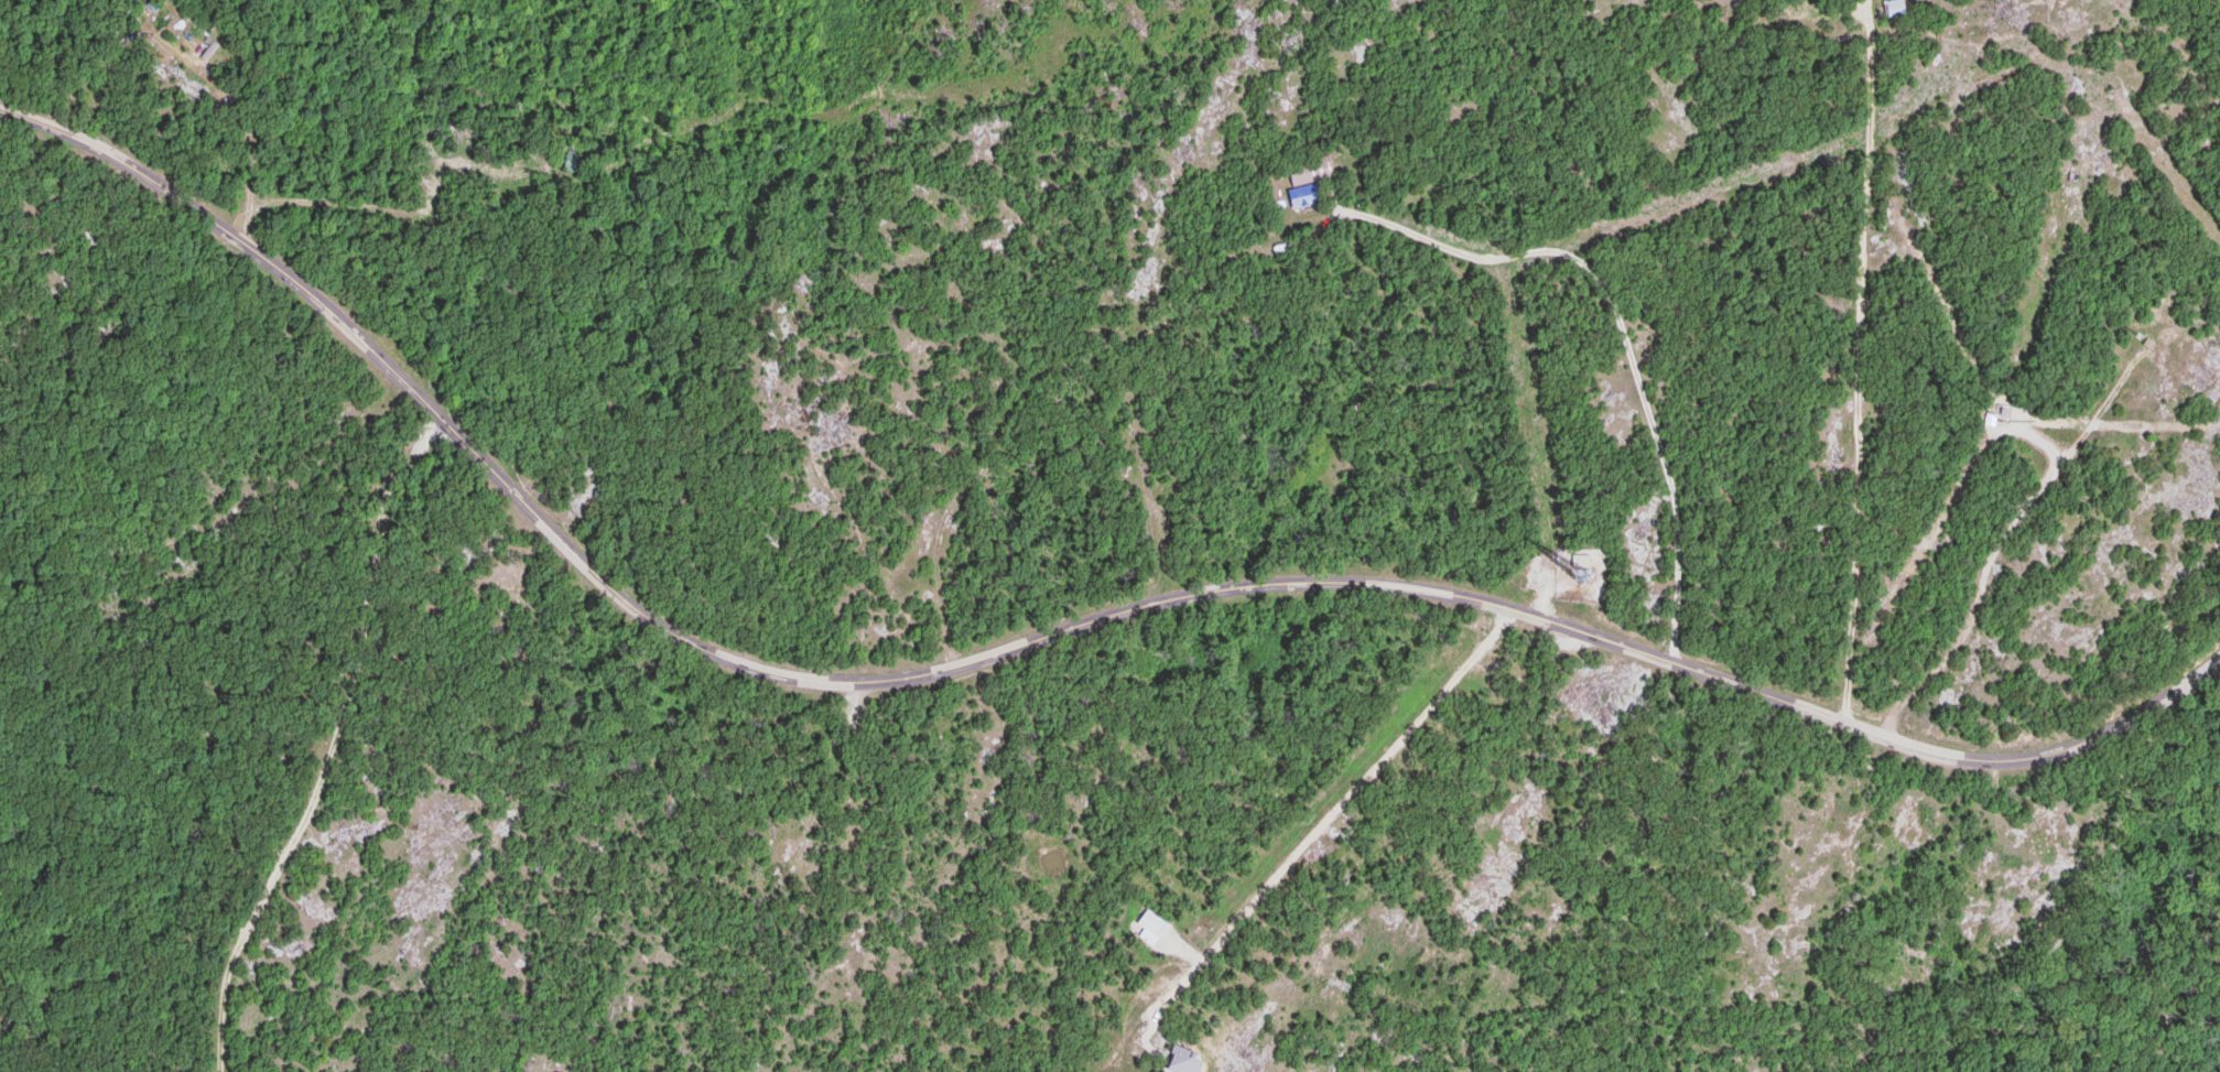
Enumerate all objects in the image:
building: (1821, 0)
building: (1895, 8)
building: (572, 161)
building: (1308, 178)
road: (1859, 364)
road: (1036, 639)
building: (2195, 681)
road: (845, 714)
road: (521, 730)
road: (329, 738)
building: (2040, 849)

